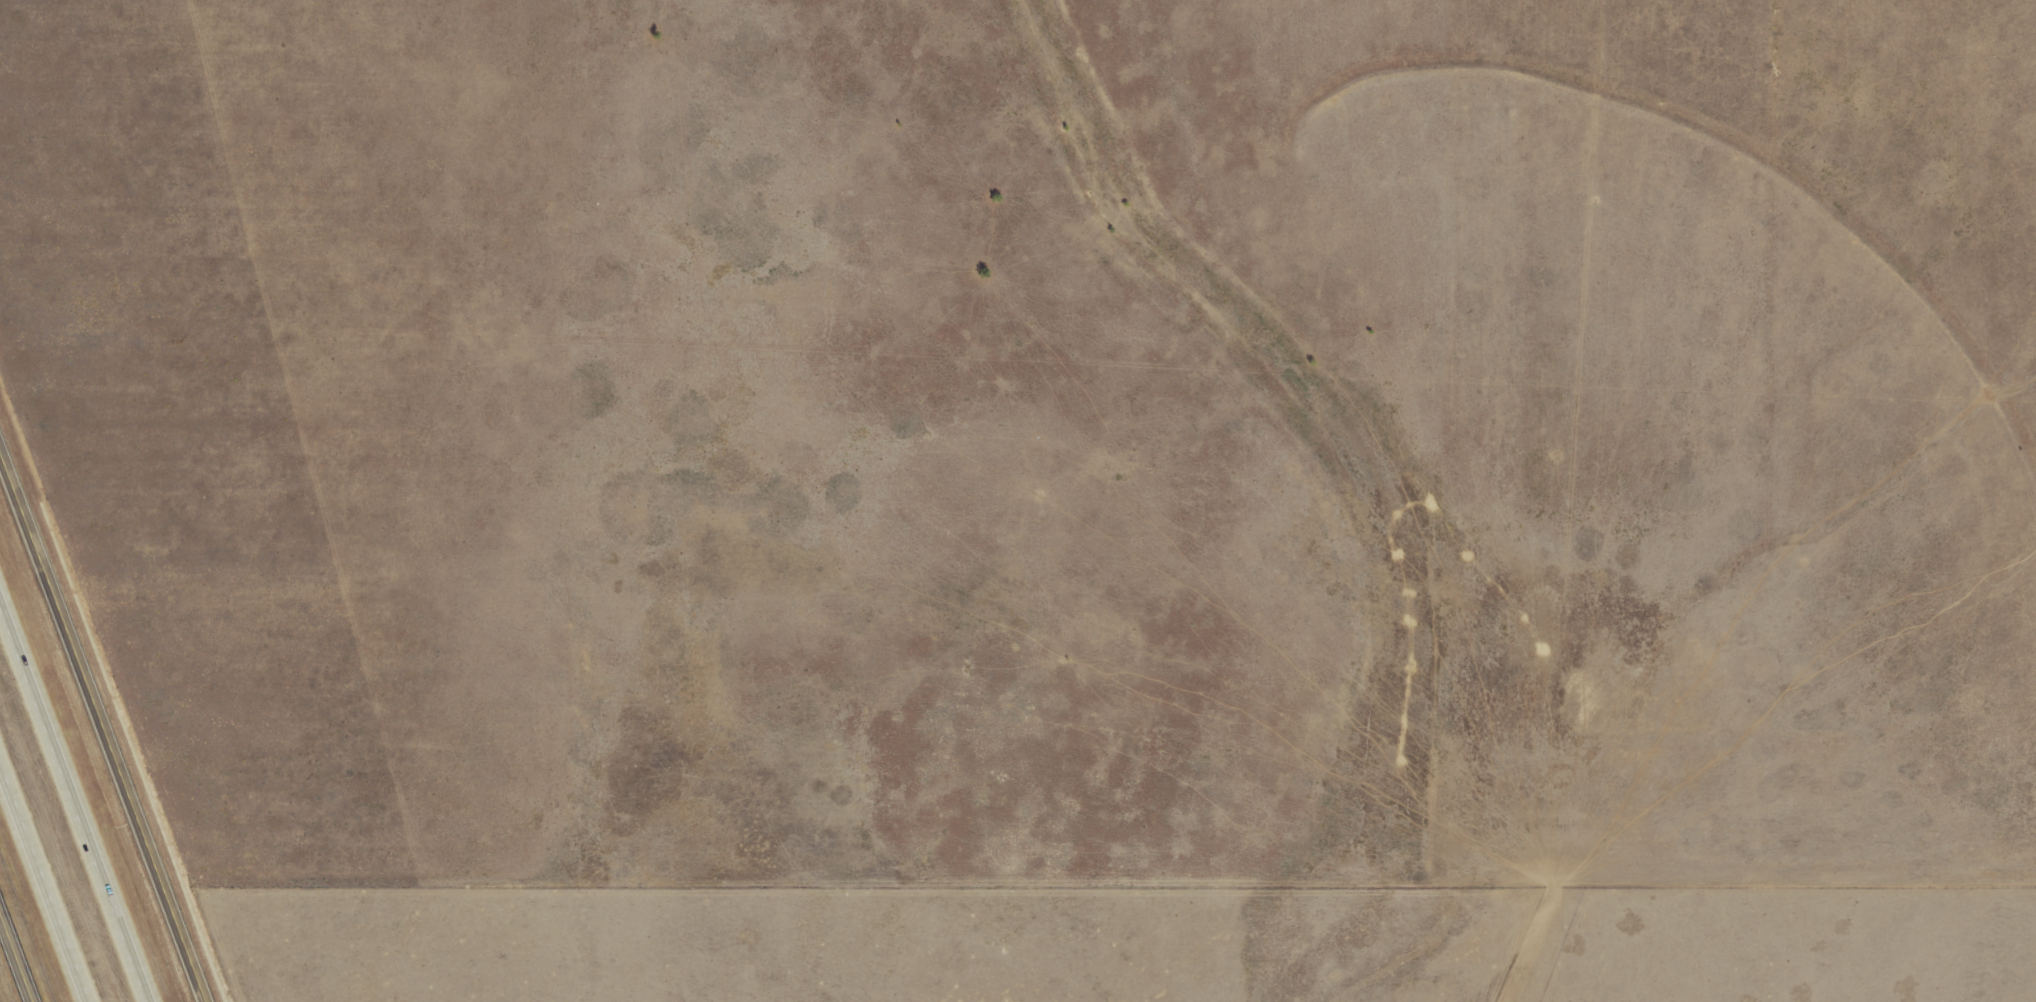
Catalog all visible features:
road: (104, 724)
building: (60, 740)
road: (76, 800)
road: (45, 882)
road: (17, 953)

